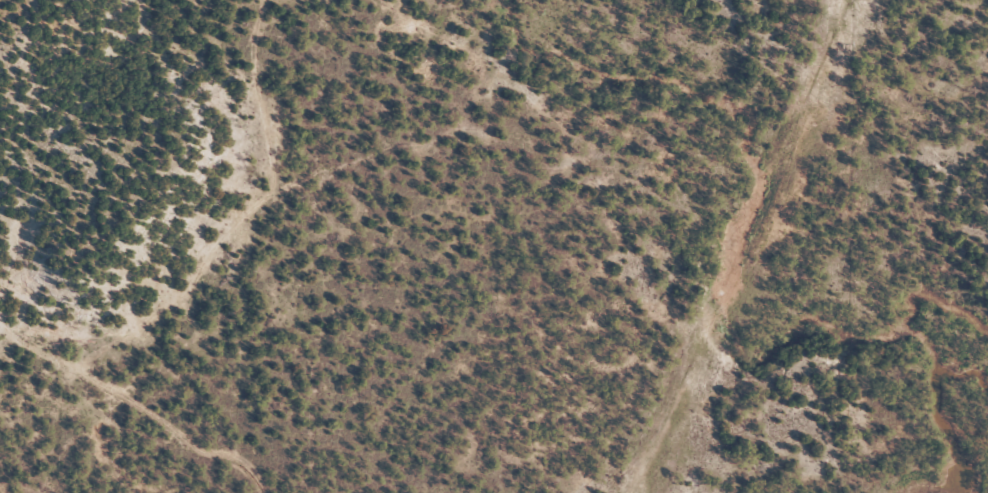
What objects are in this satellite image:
road: (86, 401)

